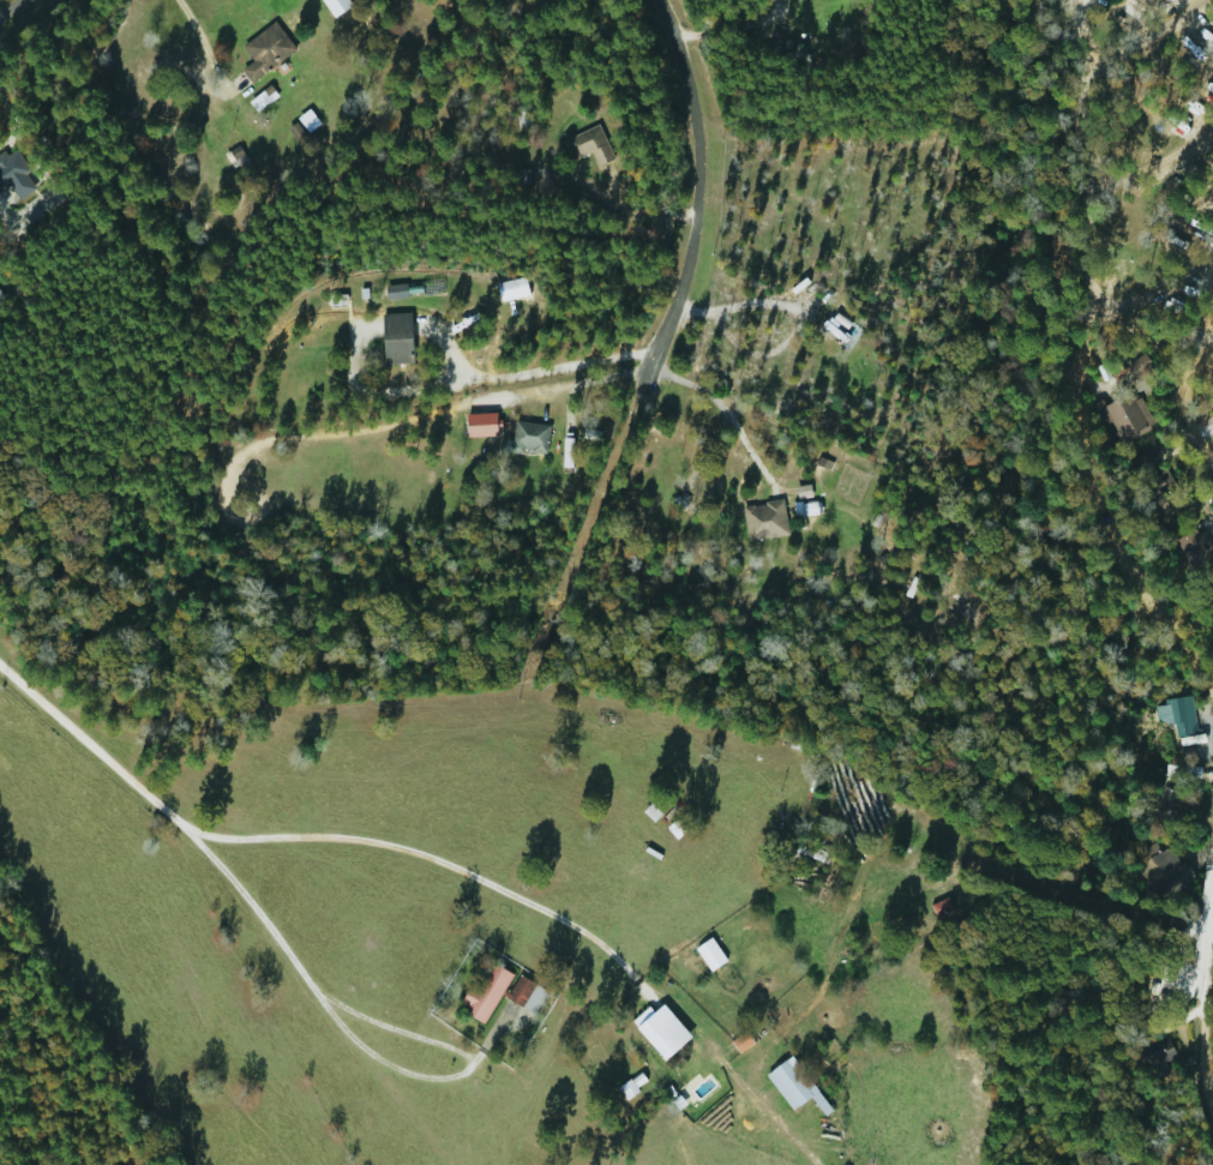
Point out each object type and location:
building: (264, 52)
building: (521, 121)
building: (587, 146)
road: (696, 175)
building: (34, 208)
building: (394, 340)
road: (523, 376)
road: (598, 379)
road: (1178, 401)
road: (721, 406)
building: (1124, 416)
building: (524, 440)
road: (1075, 450)
building: (1159, 492)
building: (803, 510)
building: (762, 521)
building: (1191, 551)
building: (1173, 715)
building: (1182, 771)
building: (1164, 805)
building: (805, 853)
building: (1159, 863)
building: (938, 908)
building: (708, 954)
building: (498, 993)
road: (1197, 1003)
building: (659, 1031)
building: (1157, 1051)
building: (792, 1086)

